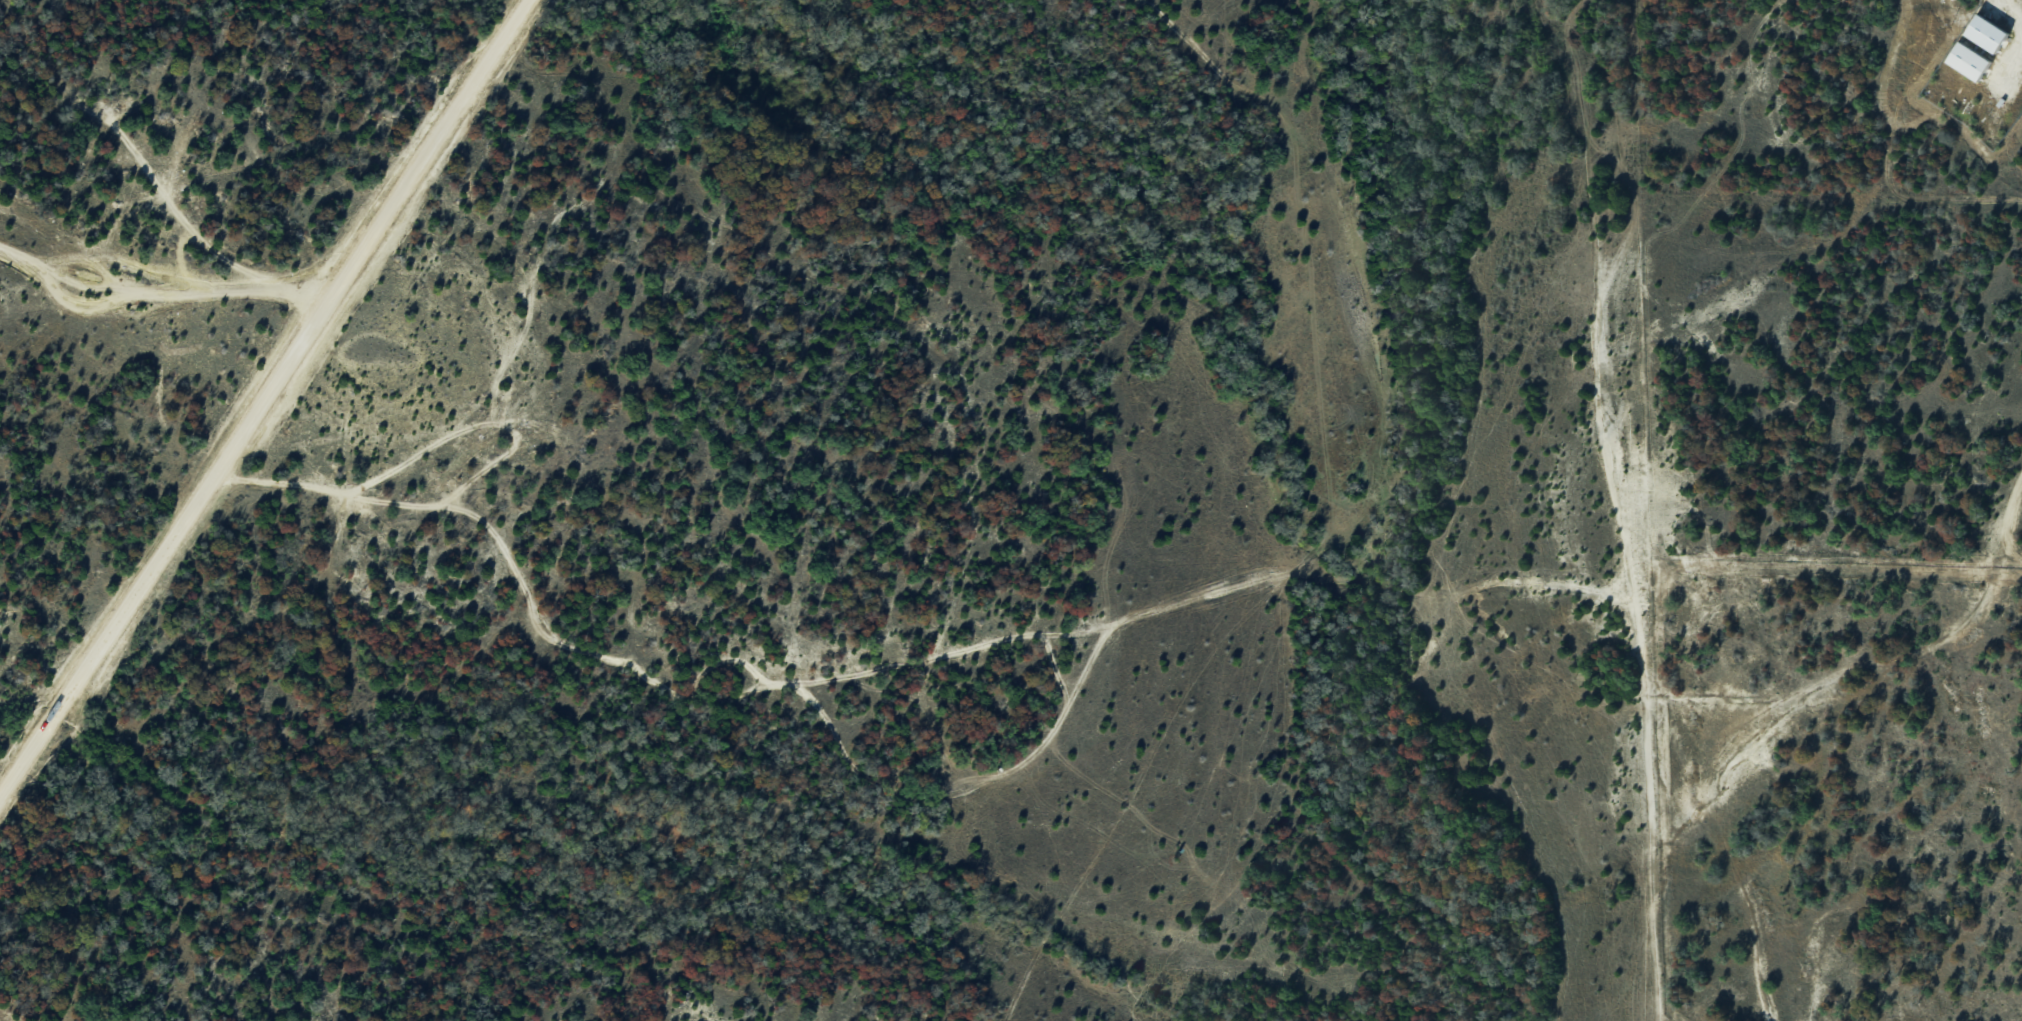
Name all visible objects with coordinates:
road: (265, 399)

